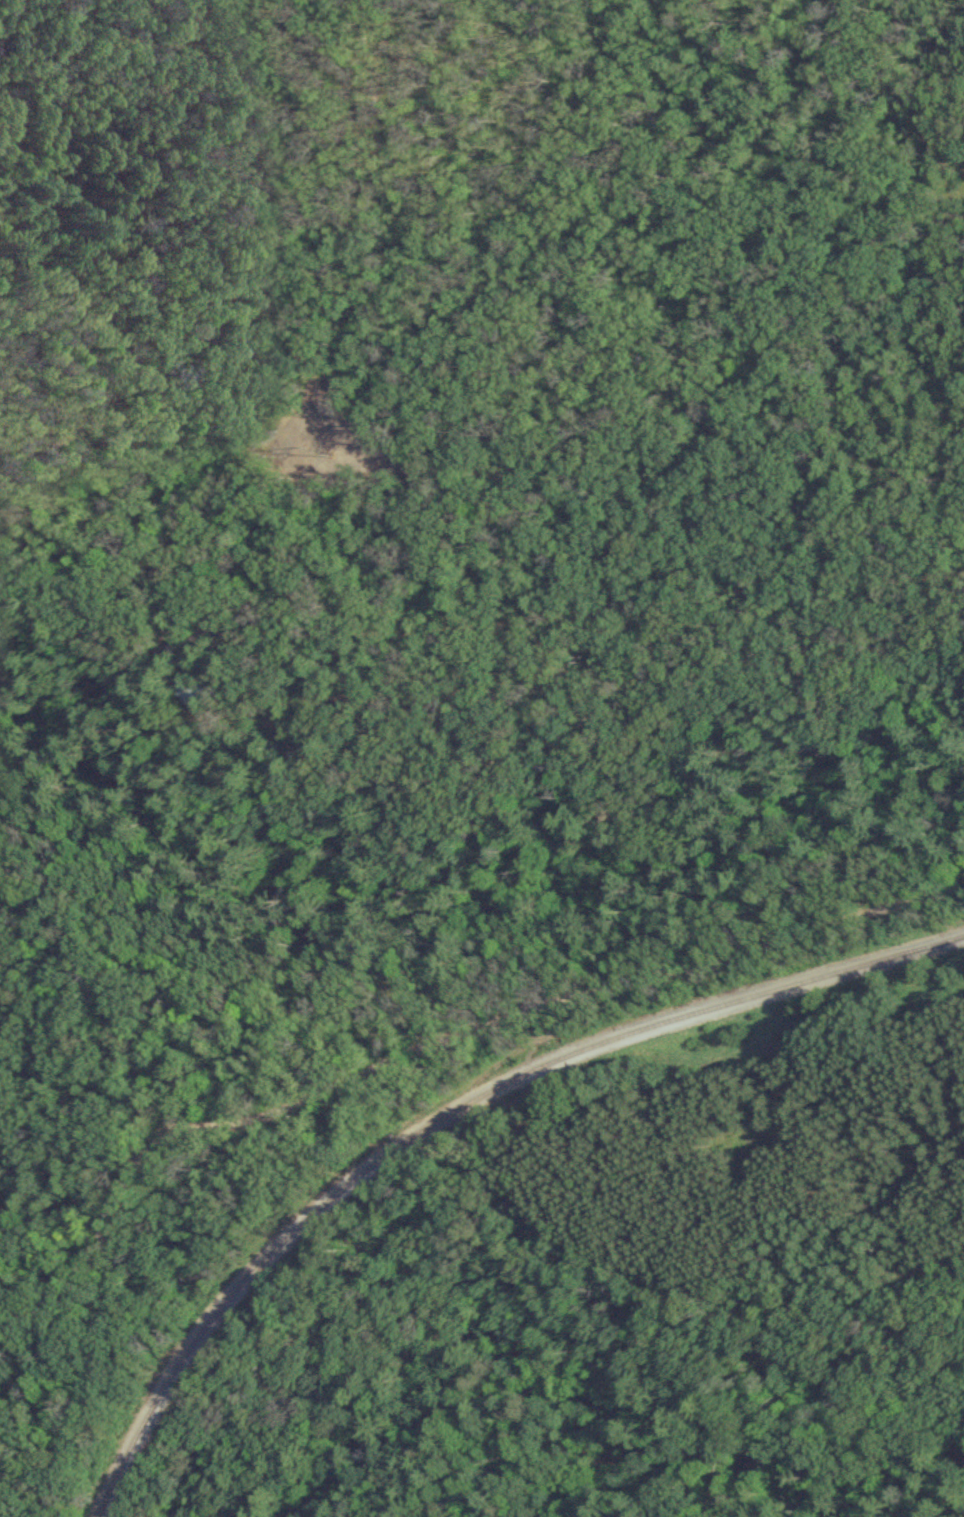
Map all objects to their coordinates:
road: (272, 286)
road: (473, 627)
building: (188, 694)
road: (435, 1040)
railway: (444, 1109)

